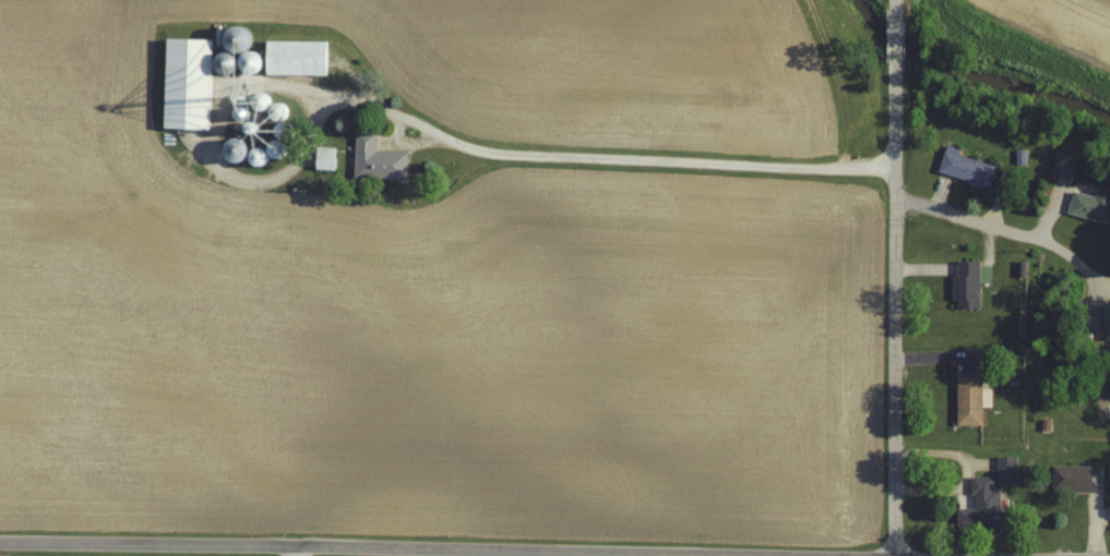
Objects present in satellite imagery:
crop: (1064, 23)
road: (594, 161)
road: (971, 218)
road: (1075, 259)
crop: (432, 270)
road: (892, 277)
road: (944, 457)
road: (939, 494)
road: (246, 551)
road: (287, 554)

